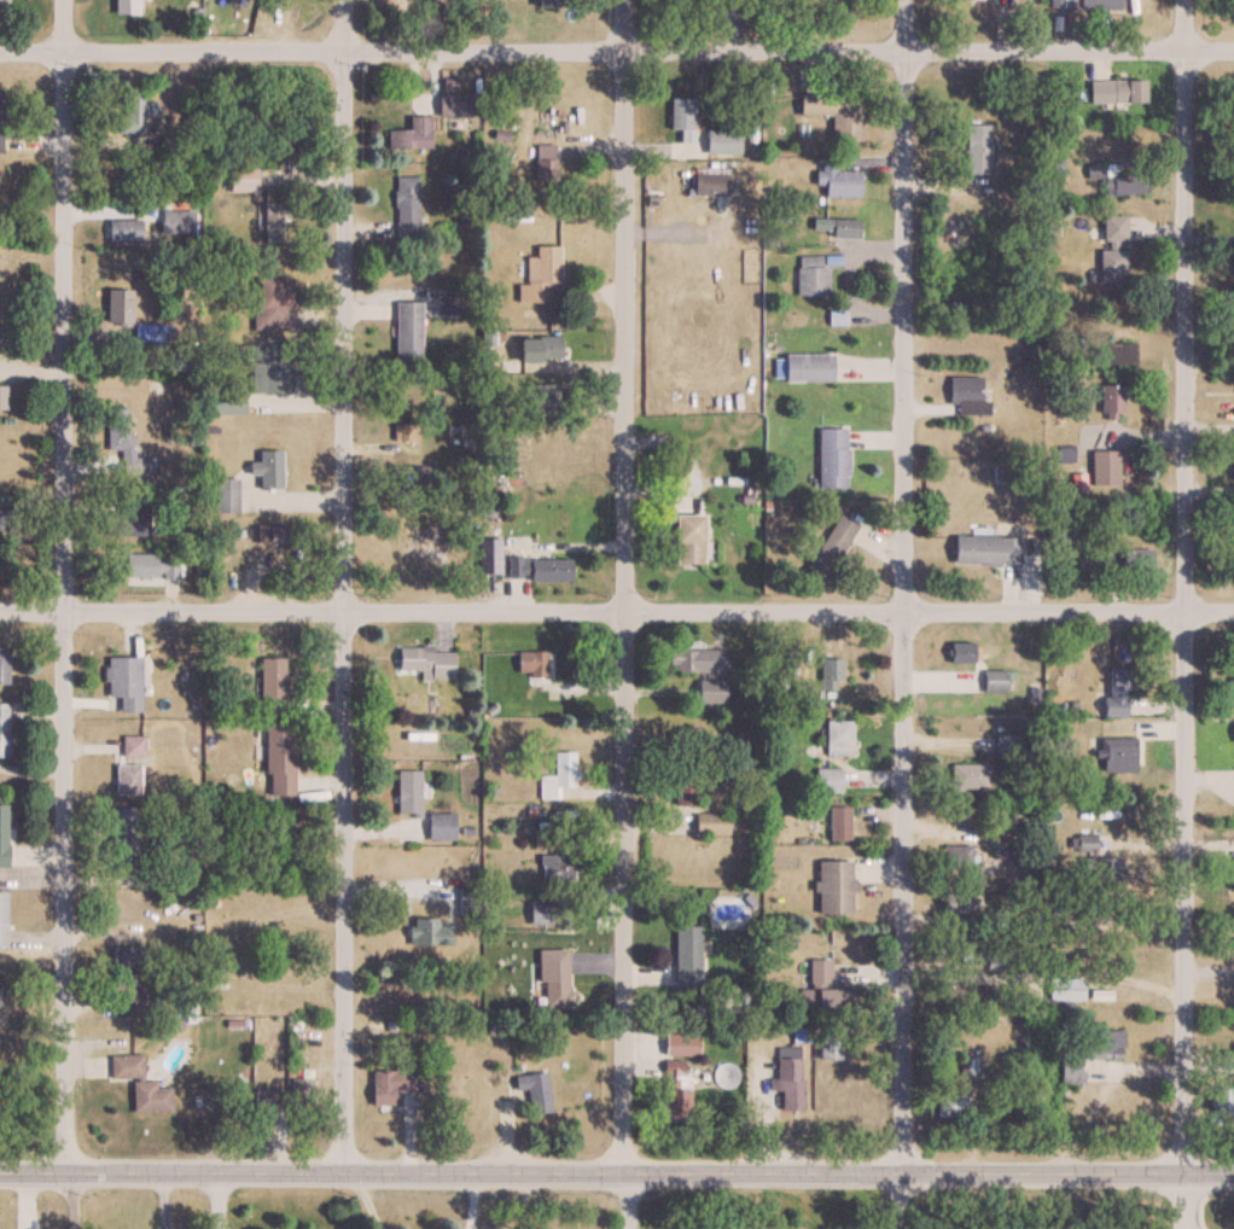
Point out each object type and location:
building: (1, 1)
building: (548, 2)
building: (1061, 4)
building: (1101, 4)
building: (126, 6)
road: (1186, 24)
road: (62, 25)
road: (623, 25)
road: (904, 25)
road: (617, 51)
building: (1116, 91)
building: (455, 103)
building: (836, 112)
building: (135, 113)
building: (682, 117)
building: (0, 121)
building: (1233, 127)
building: (411, 134)
building: (722, 141)
building: (977, 148)
building: (543, 161)
building: (1118, 179)
building: (241, 180)
building: (710, 181)
building: (840, 182)
building: (407, 208)
building: (272, 221)
building: (177, 222)
building: (838, 226)
building: (123, 229)
building: (1113, 246)
building: (541, 274)
building: (811, 275)
building: (270, 304)
building: (117, 305)
building: (1233, 308)
building: (407, 330)
building: (146, 334)
building: (539, 346)
building: (1119, 353)
building: (272, 367)
building: (807, 367)
building: (542, 394)
building: (1, 396)
building: (967, 396)
building: (1111, 398)
building: (225, 402)
building: (124, 443)
building: (832, 458)
building: (1233, 466)
building: (1104, 467)
building: (267, 468)
building: (411, 477)
building: (223, 495)
building: (127, 520)
building: (1233, 526)
building: (274, 534)
building: (686, 537)
building: (830, 548)
building: (985, 549)
building: (488, 555)
building: (1135, 559)
building: (146, 566)
building: (537, 567)
road: (343, 583)
road: (616, 611)
road: (902, 611)
road: (1184, 611)
road: (63, 612)
road: (623, 612)
building: (960, 653)
building: (694, 660)
building: (425, 662)
building: (530, 663)
building: (4, 665)
building: (124, 682)
building: (994, 682)
building: (270, 685)
building: (1230, 689)
building: (710, 692)
building: (1114, 692)
building: (4, 730)
building: (836, 739)
building: (1005, 744)
building: (133, 746)
building: (1117, 755)
building: (278, 761)
building: (557, 776)
building: (967, 776)
building: (127, 780)
building: (827, 781)
building: (408, 791)
building: (687, 791)
building: (838, 823)
building: (710, 825)
building: (440, 826)
building: (2, 835)
building: (956, 858)
building: (1095, 862)
building: (557, 868)
building: (1233, 873)
building: (833, 887)
building: (955, 908)
building: (549, 913)
building: (2, 919)
building: (427, 932)
building: (959, 946)
building: (127, 957)
building: (687, 957)
building: (994, 960)
road: (968, 977)
building: (553, 979)
building: (820, 985)
building: (126, 986)
building: (1064, 989)
building: (0, 991)
building: (964, 995)
building: (1101, 1043)
building: (967, 1065)
building: (1070, 1072)
building: (390, 1082)
building: (140, 1083)
building: (788, 1084)
building: (534, 1090)
building: (301, 1096)
building: (676, 1100)
building: (1222, 1101)
building: (949, 1103)
road: (616, 1172)
road: (216, 1199)
road: (896, 1199)
road: (71, 1200)
road: (470, 1200)
road: (625, 1201)
road: (1181, 1201)

